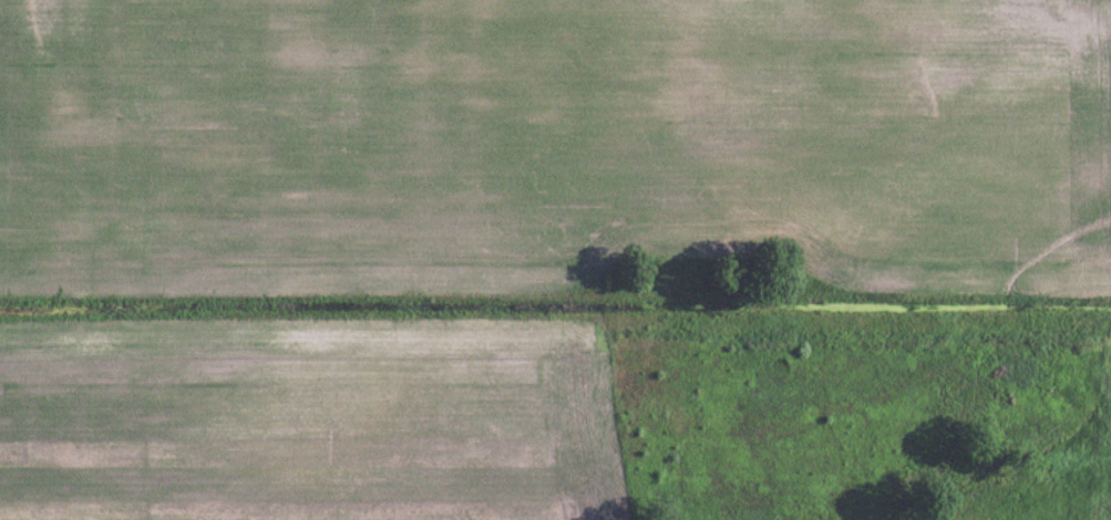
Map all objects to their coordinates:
road: (788, 439)

